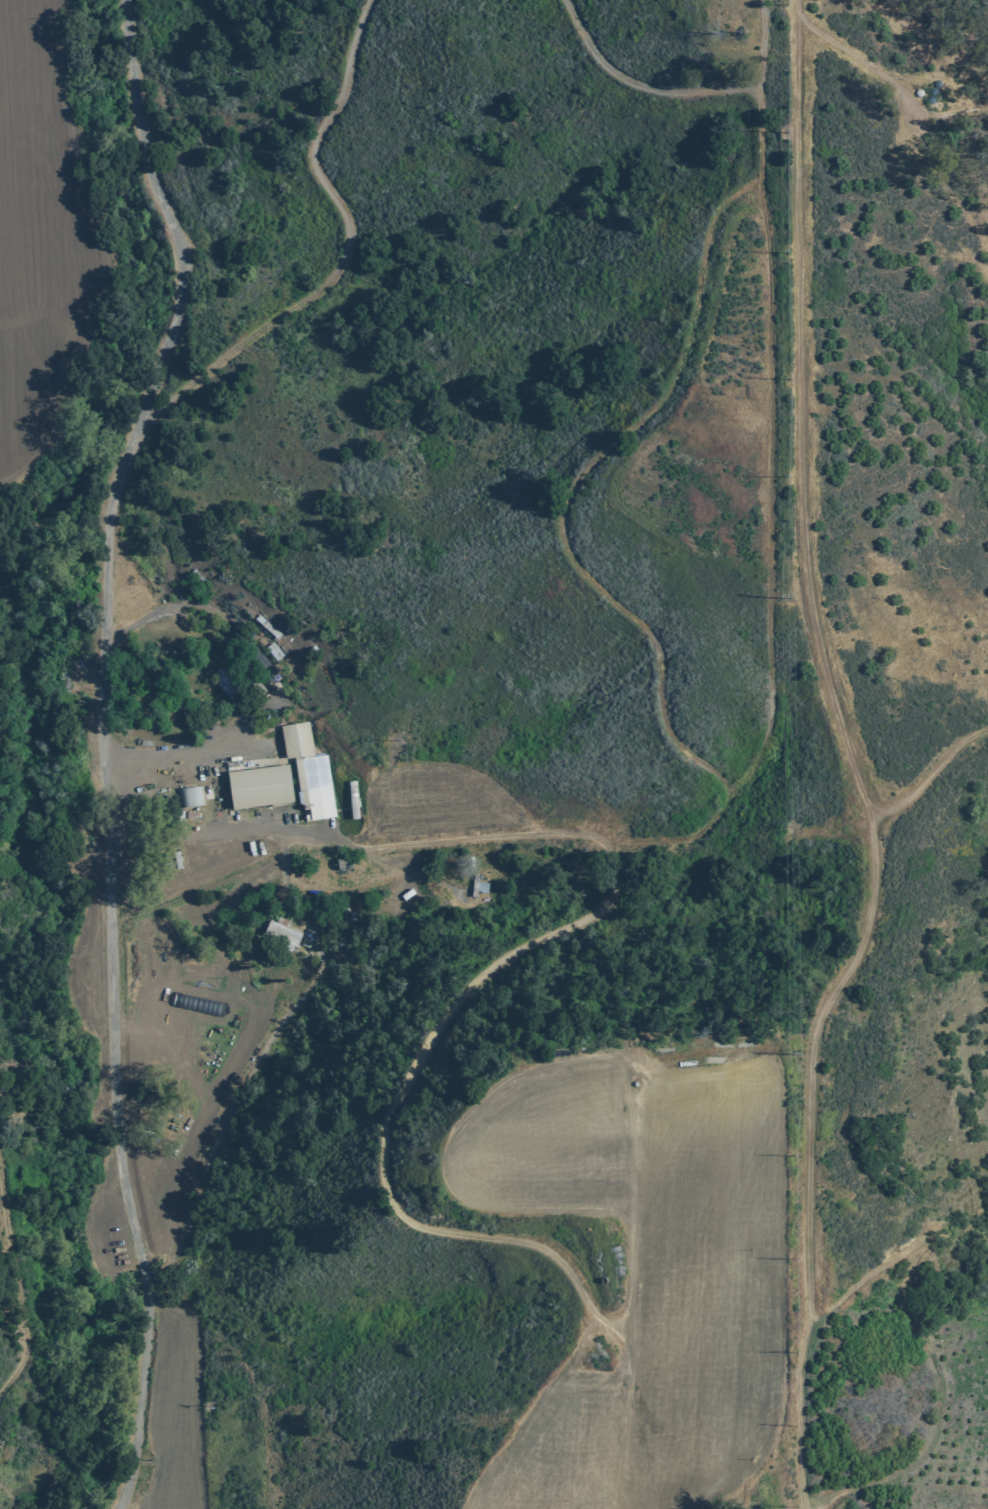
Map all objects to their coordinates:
power tower: (788, 7)
road: (683, 92)
power tower: (787, 130)
crop: (42, 233)
power tower: (787, 251)
road: (347, 254)
road: (108, 262)
power tower: (787, 382)
power tower: (787, 474)
road: (802, 490)
power tower: (783, 598)
building: (225, 683)
road: (100, 747)
building: (309, 770)
building: (260, 787)
building: (191, 797)
power tower: (794, 826)
building: (281, 935)
road: (484, 976)
power tower: (796, 1056)
power tower: (795, 1156)
power tower: (795, 1259)
crop: (648, 1275)
power tower: (795, 1352)
crop: (165, 1416)
power tower: (796, 1426)
power tower: (794, 1508)

